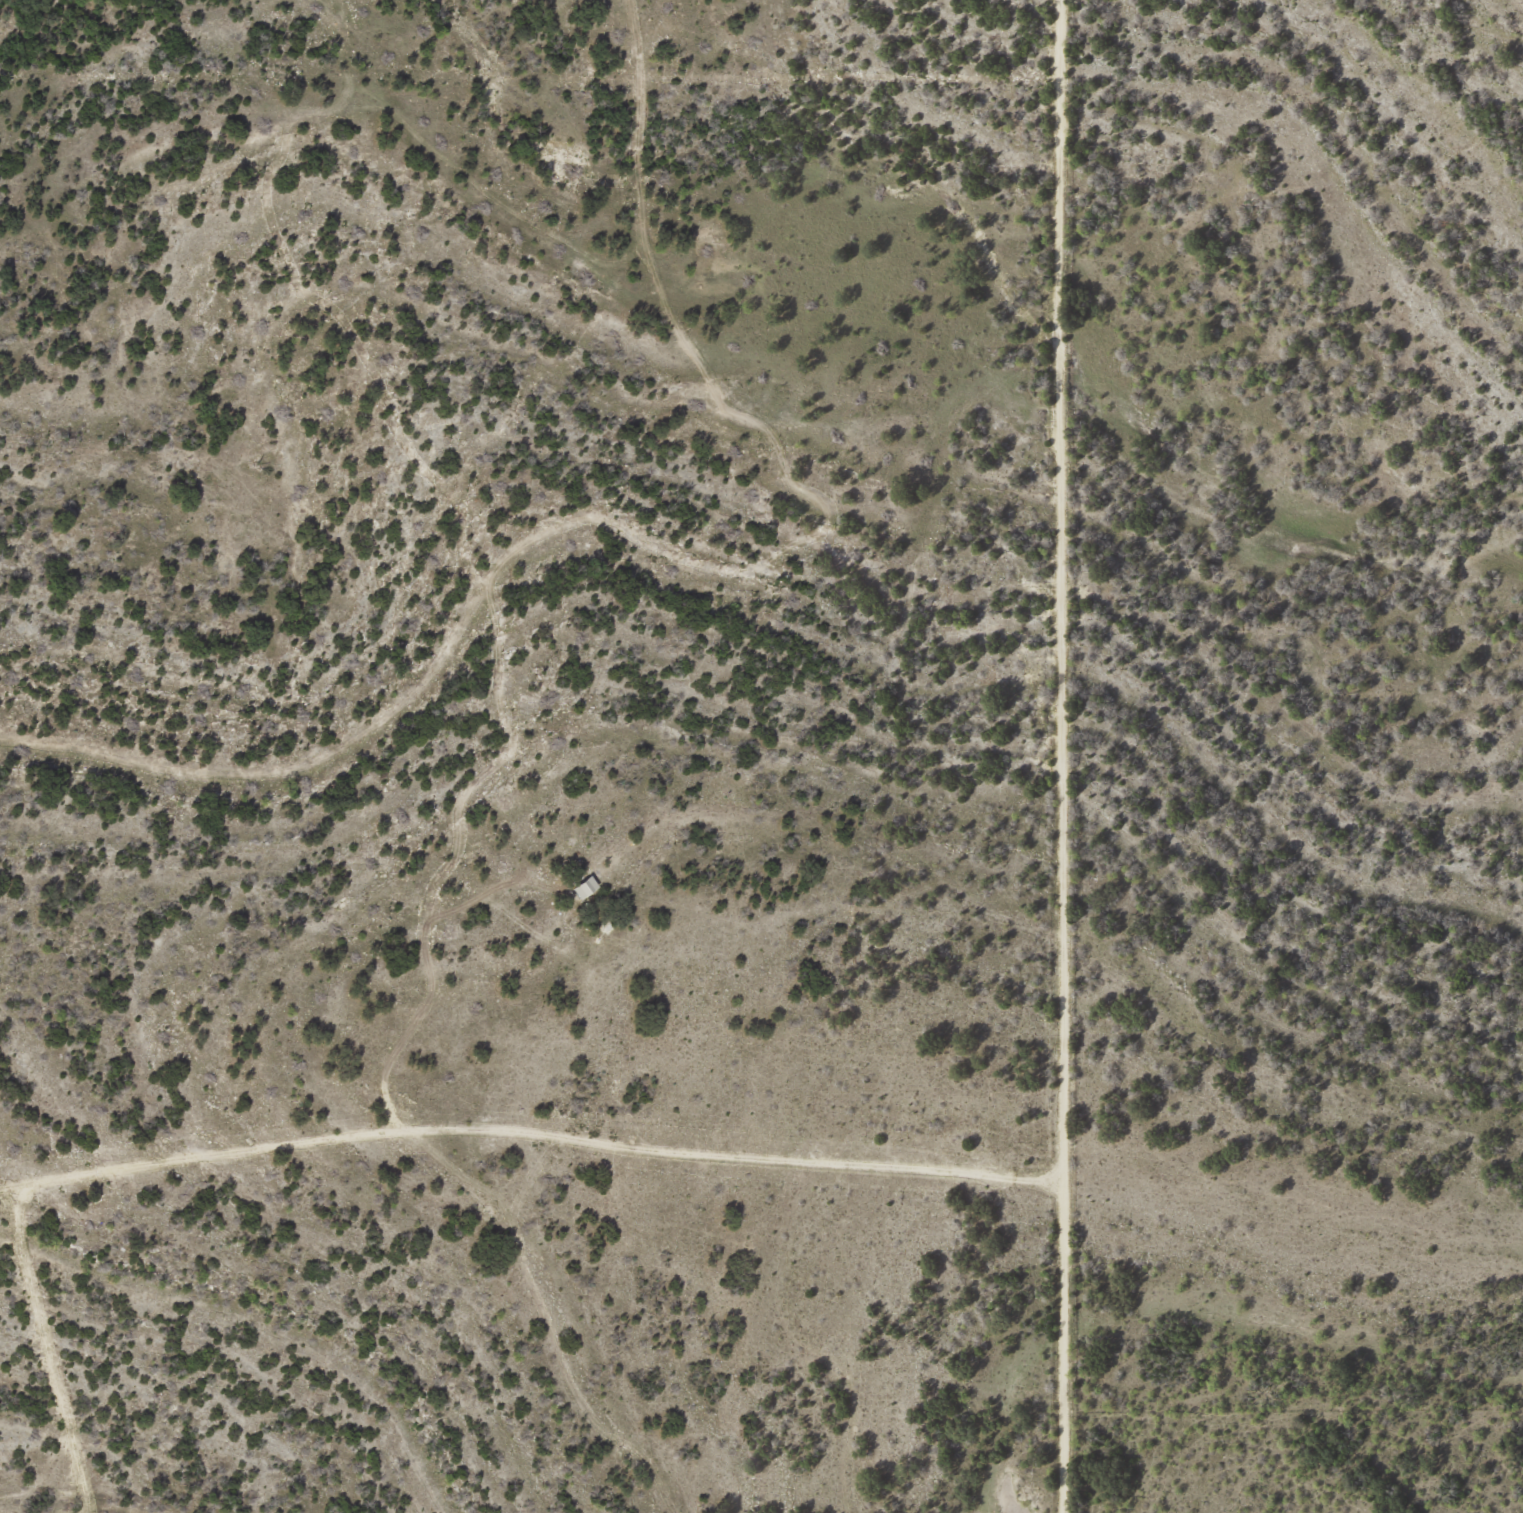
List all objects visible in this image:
road: (1034, 756)

